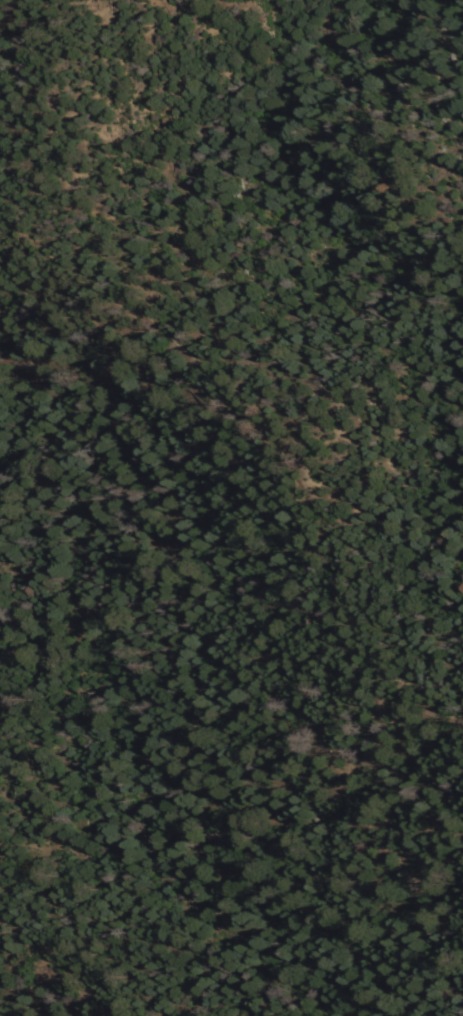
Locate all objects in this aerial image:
road: (213, 370)

